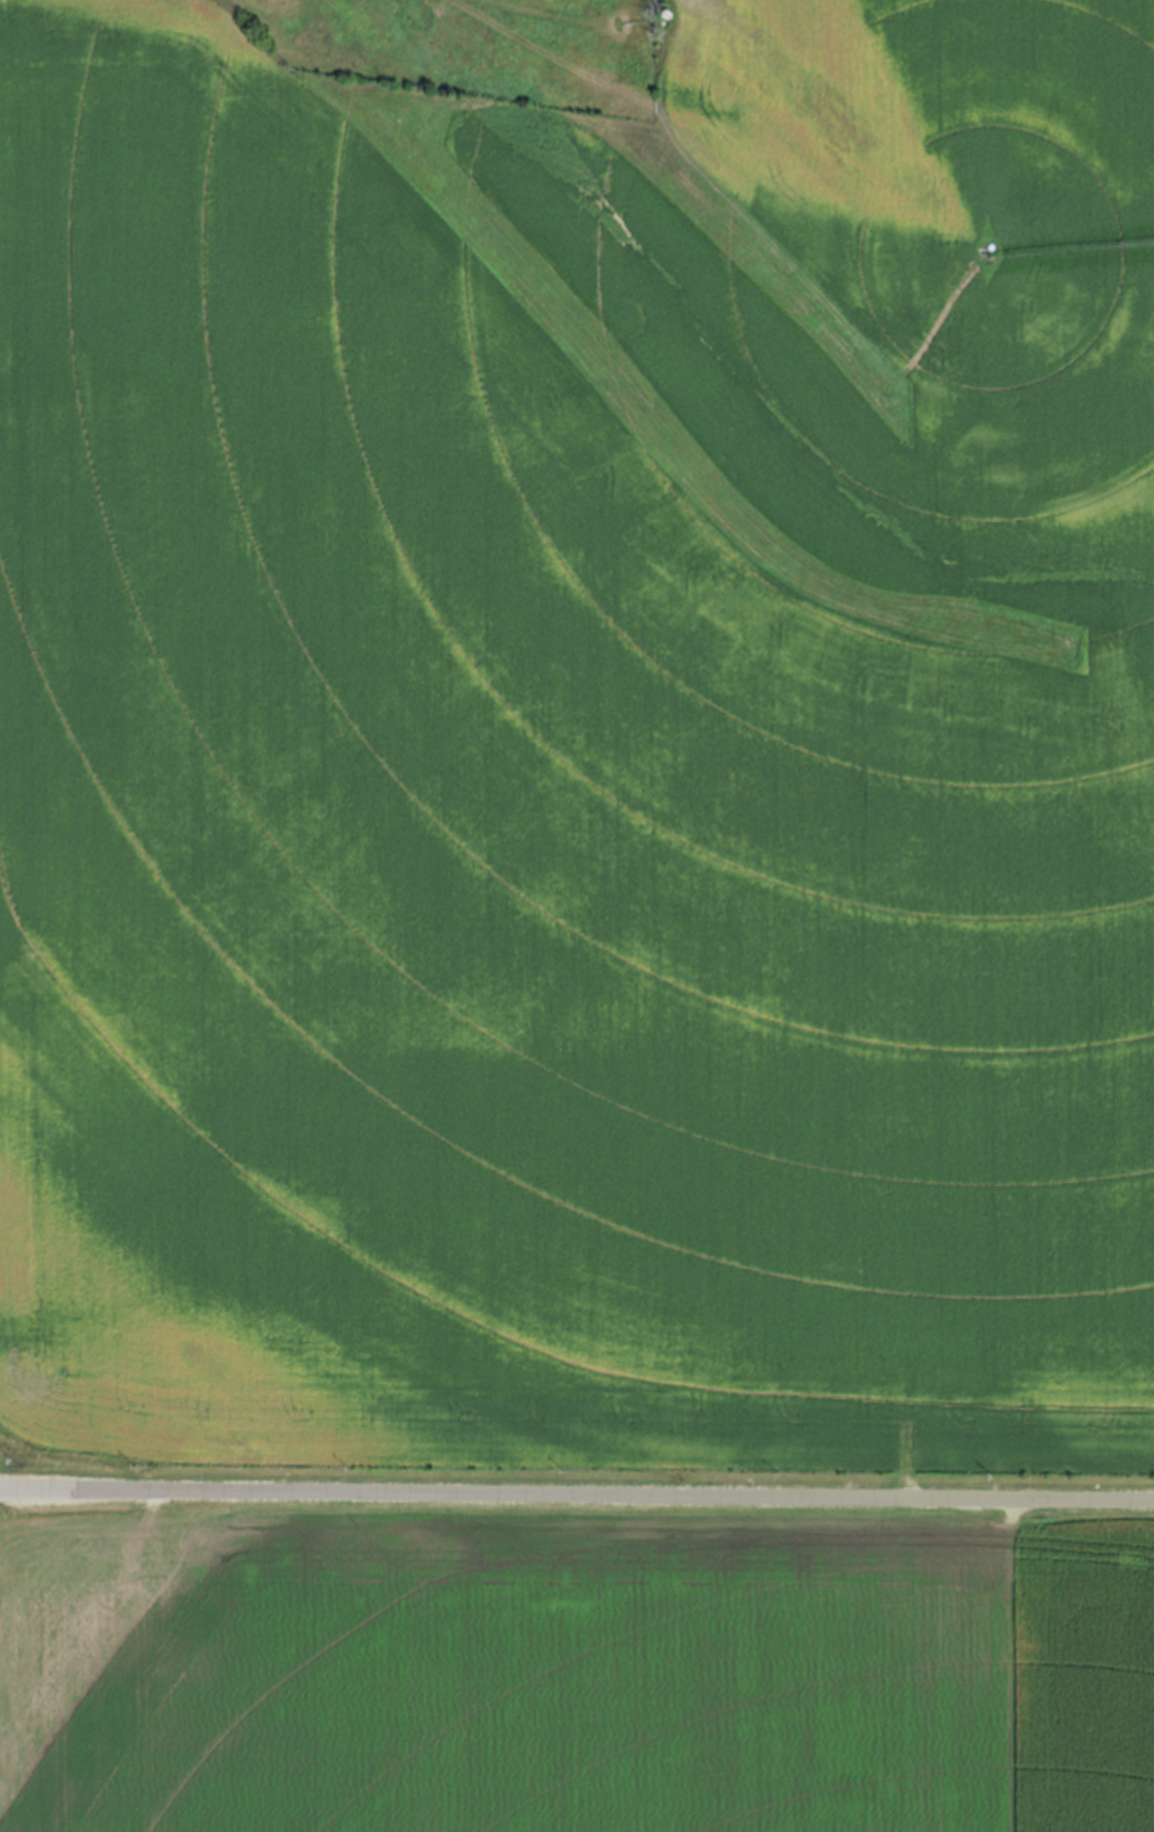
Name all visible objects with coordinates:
road: (577, 1502)

